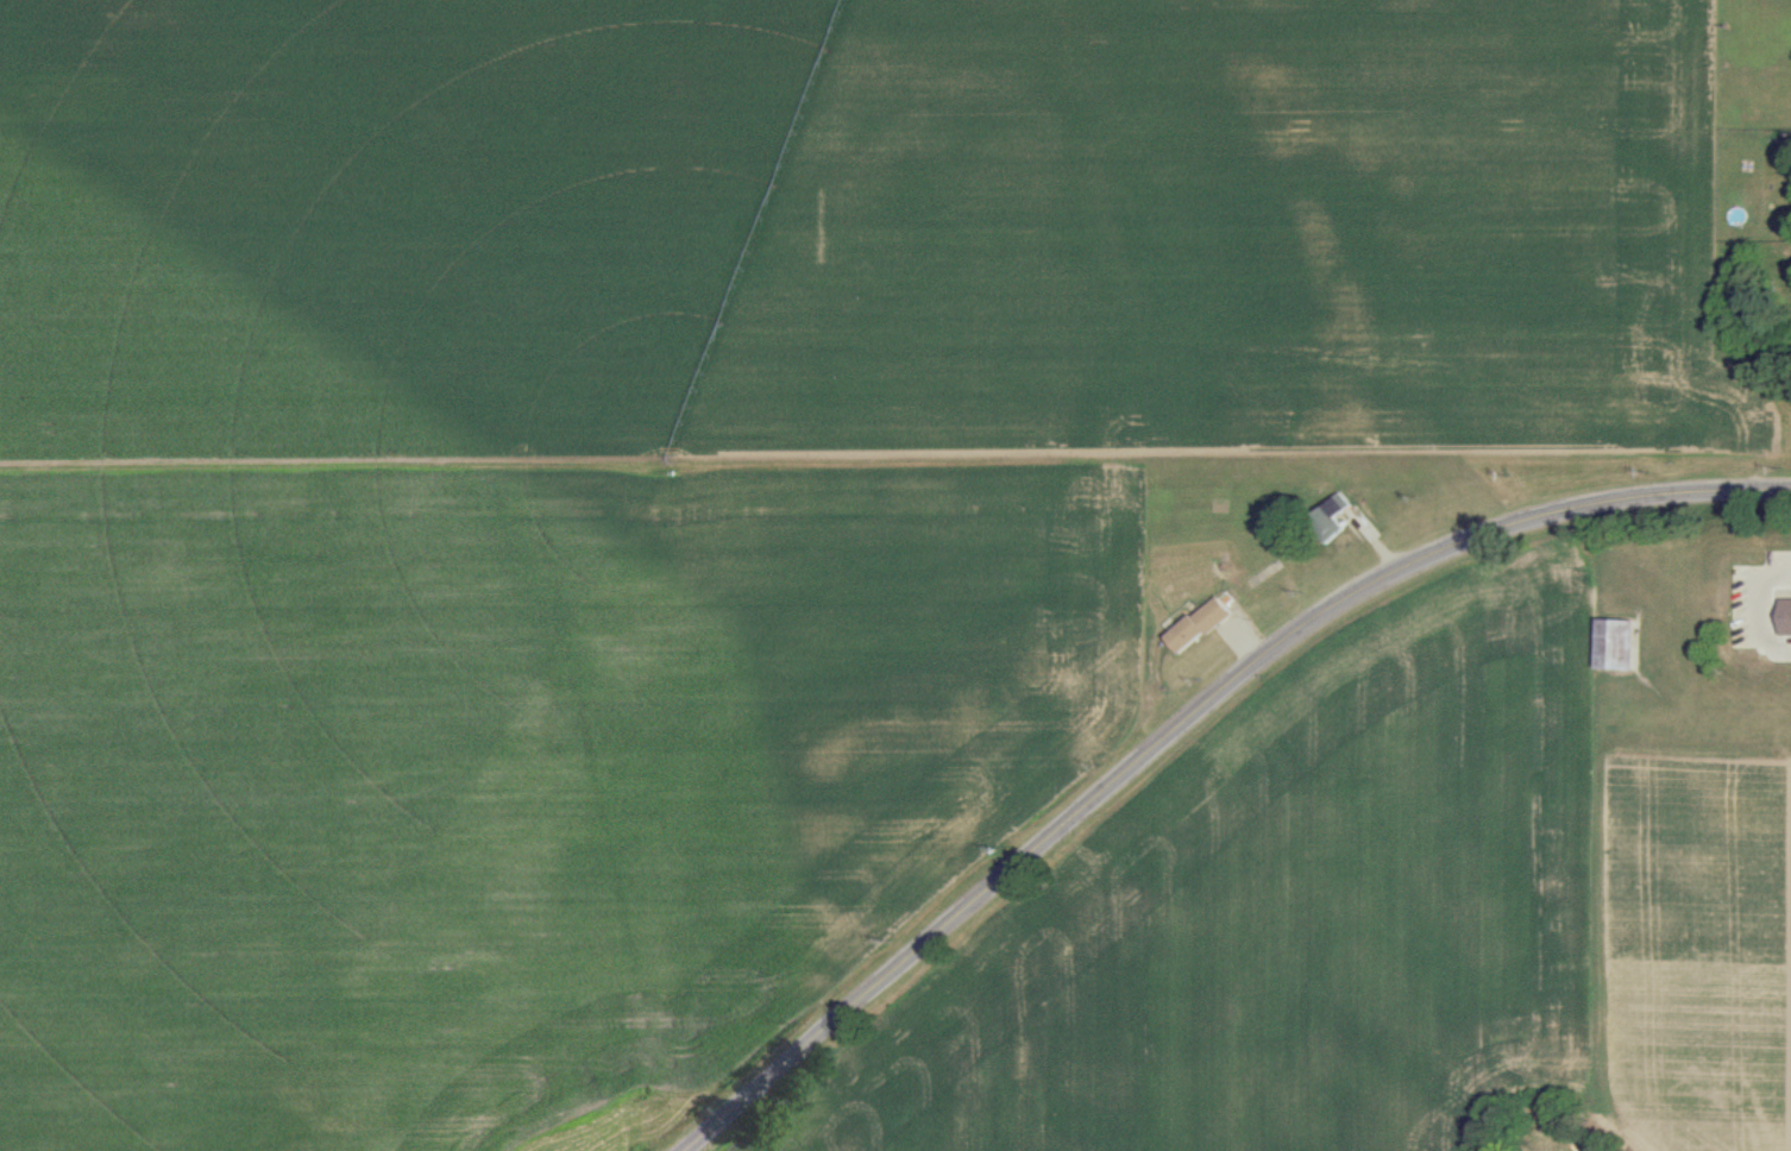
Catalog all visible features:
building: (1327, 516)
road: (1771, 616)
building: (1196, 624)
building: (1614, 642)
road: (1186, 718)

